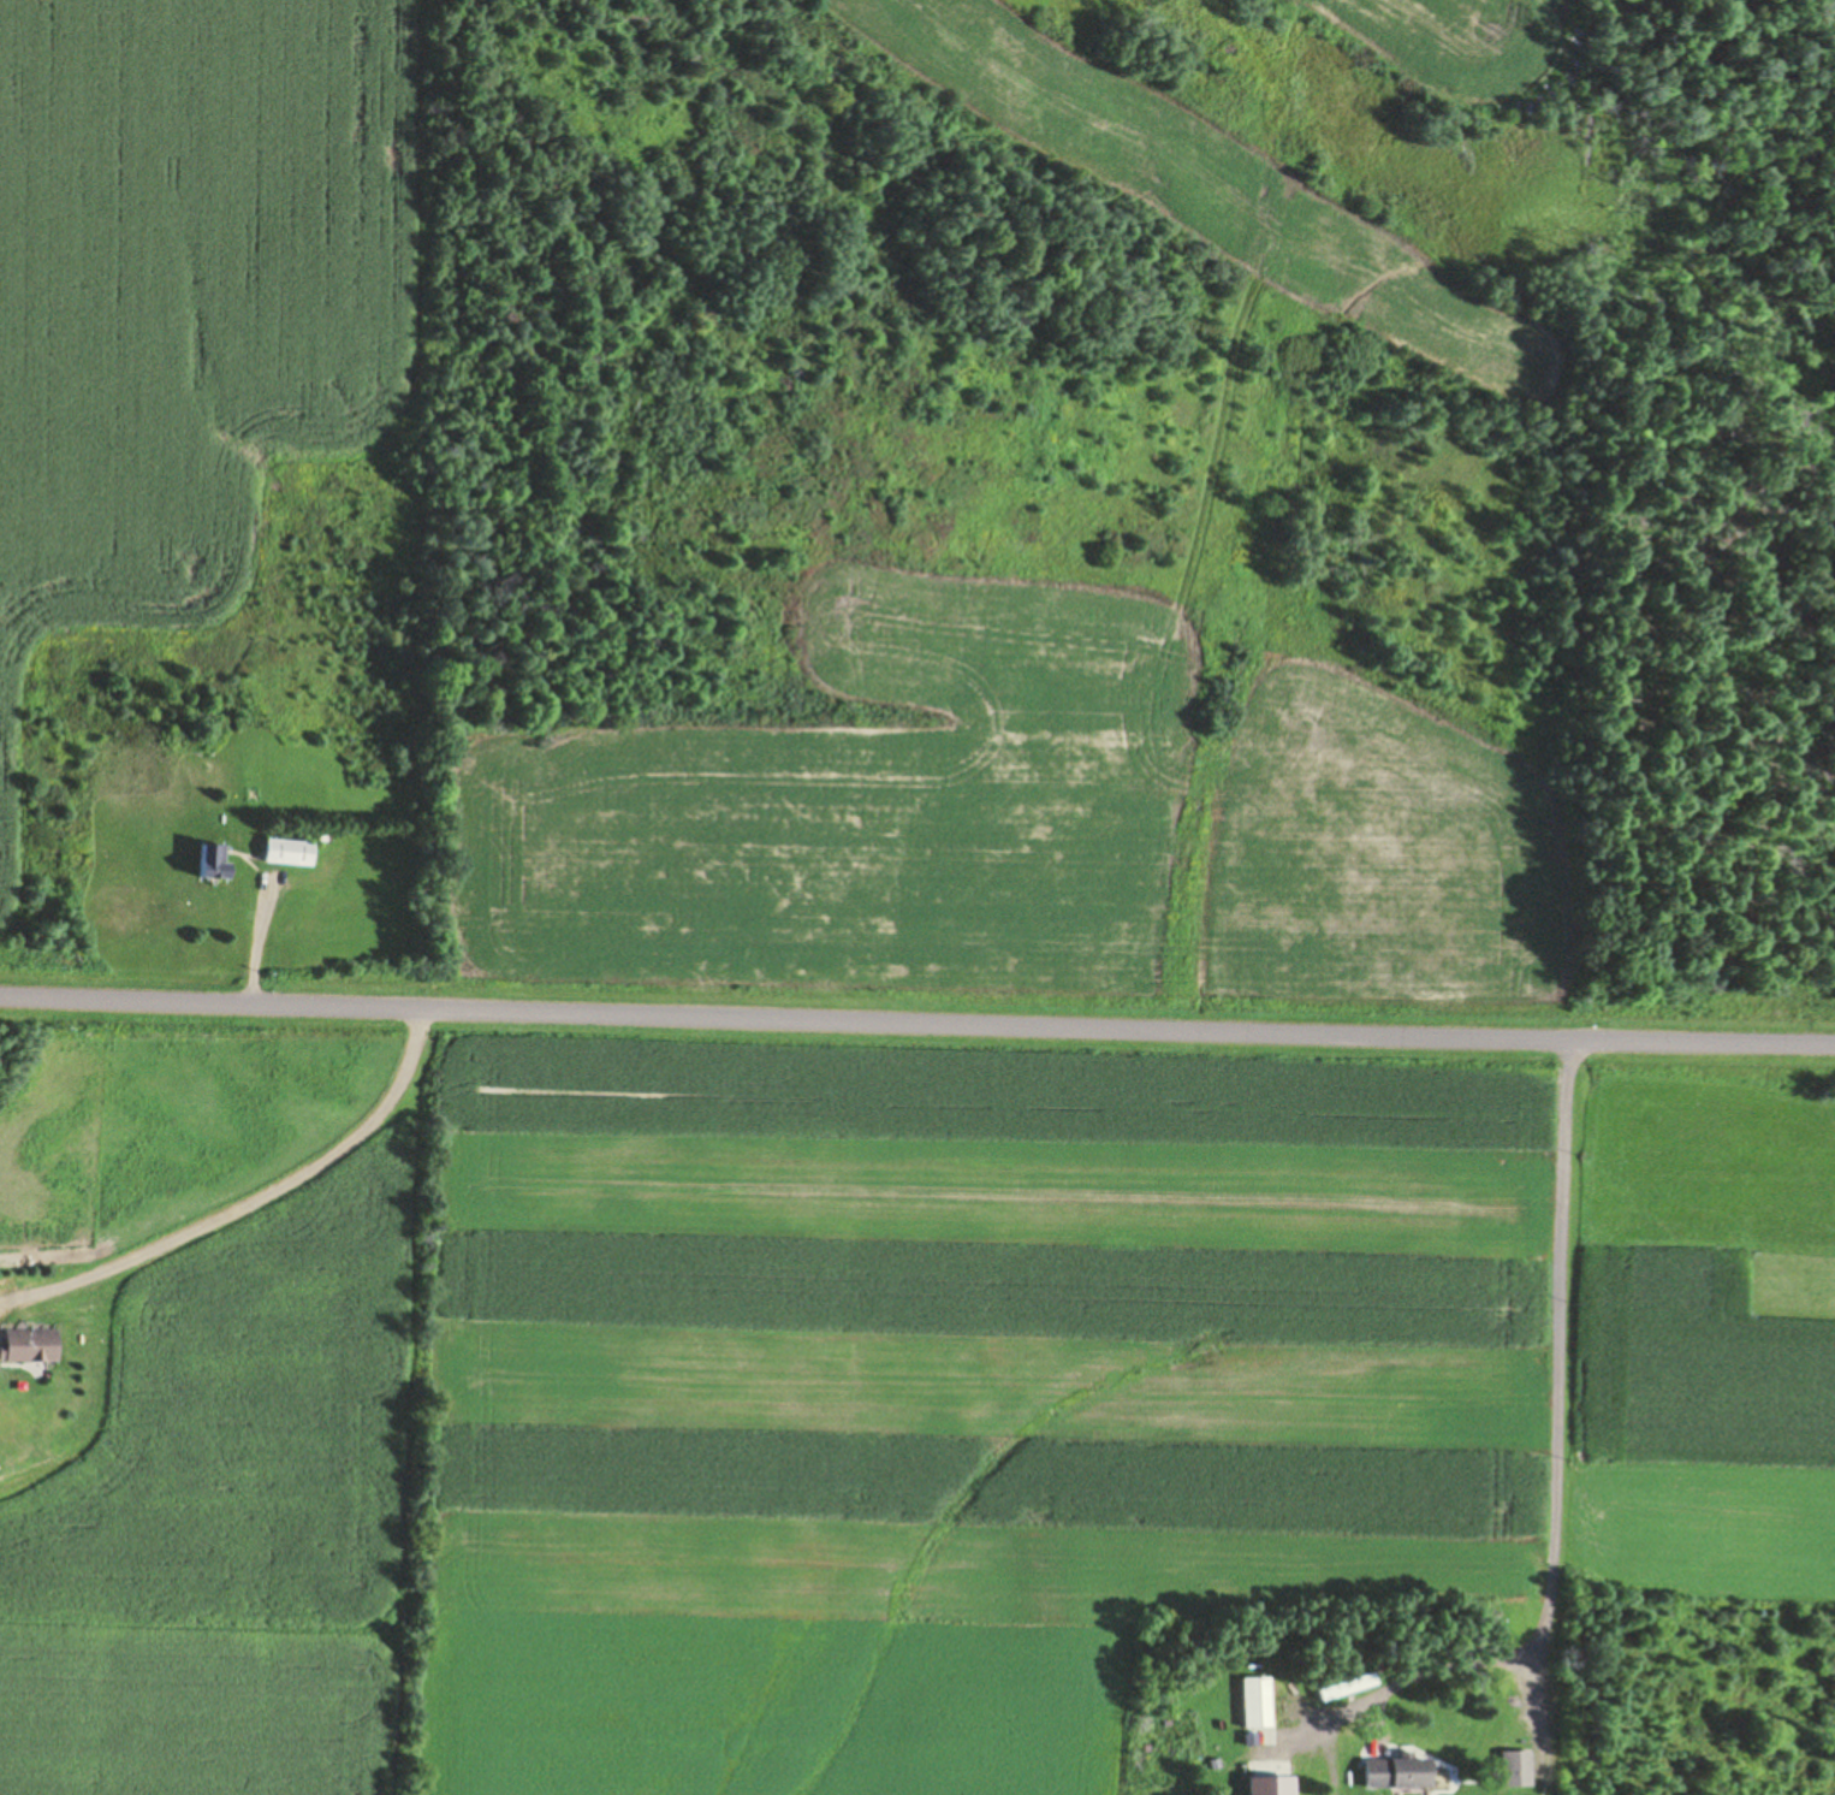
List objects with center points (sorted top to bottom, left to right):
building: (290, 852)
building: (214, 863)
road: (917, 1024)
building: (32, 1346)
road: (1587, 1417)
building: (1257, 1702)
building: (1515, 1770)
building: (1398, 1773)
building: (1272, 1787)

